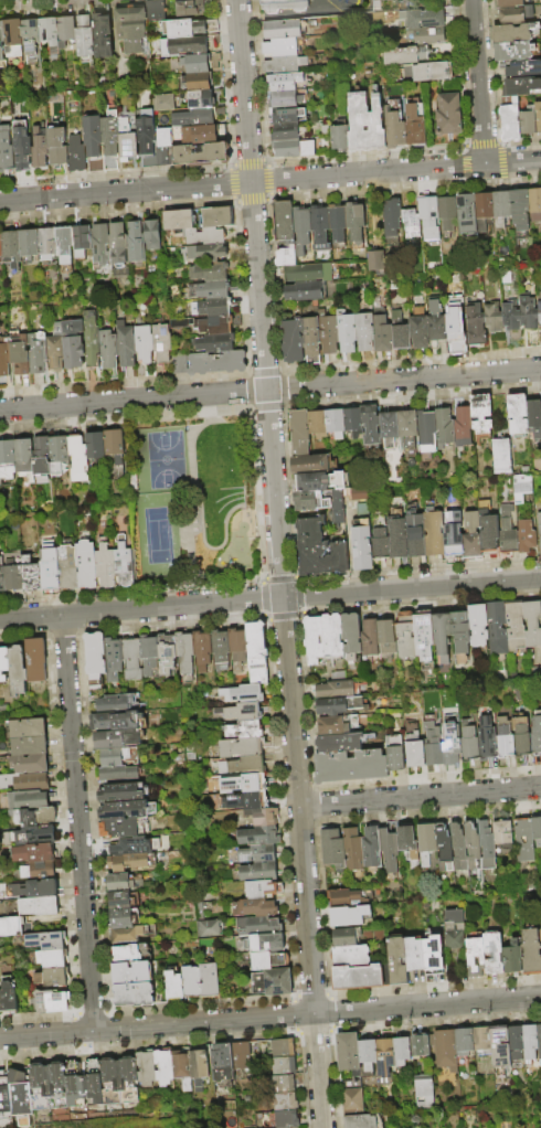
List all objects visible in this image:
building: (510, 3)
building: (283, 6)
building: (191, 8)
building: (156, 10)
building: (515, 14)
building: (422, 18)
building: (131, 26)
building: (191, 26)
building: (282, 29)
building: (66, 30)
building: (50, 32)
building: (515, 32)
building: (103, 34)
building: (426, 34)
building: (85, 35)
building: (31, 38)
building: (13, 40)
building: (1, 43)
building: (194, 44)
building: (279, 46)
building: (515, 51)
building: (405, 54)
building: (201, 62)
building: (284, 64)
building: (521, 67)
building: (431, 71)
building: (199, 81)
building: (283, 81)
road: (479, 83)
building: (521, 87)
building: (284, 98)
building: (162, 100)
building: (285, 115)
building: (448, 115)
building: (198, 116)
building: (538, 116)
building: (510, 121)
building: (528, 121)
building: (364, 124)
building: (414, 124)
building: (393, 125)
building: (286, 131)
building: (203, 134)
building: (339, 137)
building: (110, 139)
building: (153, 139)
building: (94, 140)
building: (128, 140)
building: (22, 145)
building: (57, 146)
building: (40, 148)
building: (291, 148)
building: (6, 151)
building: (76, 153)
building: (202, 153)
road: (512, 162)
road: (243, 183)
building: (534, 205)
building: (500, 207)
building: (482, 210)
building: (519, 210)
building: (466, 212)
building: (447, 213)
building: (392, 214)
building: (428, 216)
building: (219, 217)
building: (180, 220)
building: (197, 220)
building: (283, 221)
building: (337, 222)
building: (356, 222)
building: (411, 224)
building: (319, 227)
building: (301, 230)
building: (155, 235)
building: (206, 236)
building: (83, 240)
building: (138, 242)
building: (102, 243)
building: (30, 244)
building: (49, 244)
building: (65, 244)
building: (119, 244)
building: (1, 245)
building: (12, 248)
building: (209, 253)
building: (286, 257)
building: (374, 260)
building: (211, 272)
building: (308, 273)
building: (213, 289)
building: (304, 291)
road: (259, 298)
building: (214, 308)
building: (528, 312)
building: (539, 315)
building: (492, 317)
building: (436, 323)
building: (512, 323)
building: (208, 324)
building: (475, 324)
building: (455, 327)
building: (364, 332)
building: (418, 332)
building: (329, 334)
building: (347, 334)
building: (382, 336)
building: (401, 338)
building: (311, 339)
building: (92, 342)
building: (291, 342)
building: (216, 343)
building: (74, 344)
building: (127, 347)
building: (162, 347)
building: (145, 348)
building: (57, 349)
building: (39, 352)
building: (110, 352)
building: (21, 354)
building: (6, 359)
building: (218, 363)
building: (180, 364)
road: (269, 390)
building: (480, 413)
building: (518, 414)
building: (534, 417)
building: (352, 421)
building: (317, 423)
building: (335, 423)
building: (370, 425)
building: (406, 425)
building: (463, 425)
building: (444, 426)
building: (299, 428)
building: (389, 428)
building: (427, 429)
building: (115, 446)
building: (95, 450)
building: (57, 451)
building: (41, 455)
building: (22, 456)
building: (78, 457)
building: (501, 457)
building: (7, 458)
park: (169, 459)
building: (311, 464)
building: (319, 481)
building: (517, 488)
park: (194, 500)
building: (310, 500)
building: (507, 531)
building: (539, 531)
building: (434, 533)
building: (489, 533)
building: (453, 534)
park: (159, 536)
building: (416, 536)
building: (471, 538)
building: (527, 539)
building: (397, 540)
building: (310, 546)
building: (380, 546)
building: (361, 549)
building: (335, 557)
building: (123, 562)
building: (85, 564)
building: (104, 564)
building: (67, 566)
building: (12, 571)
building: (49, 571)
building: (30, 574)
building: (1, 575)
road: (411, 587)
road: (140, 608)
building: (496, 620)
building: (532, 625)
building: (478, 626)
building: (515, 627)
building: (424, 630)
building: (385, 631)
building: (351, 634)
building: (459, 635)
building: (405, 637)
building: (442, 637)
building: (322, 638)
building: (369, 638)
building: (237, 648)
building: (220, 649)
building: (203, 650)
building: (257, 652)
building: (166, 653)
building: (149, 656)
building: (184, 656)
building: (95, 658)
building: (131, 658)
building: (113, 659)
building: (38, 660)
building: (4, 664)
building: (20, 672)
building: (338, 677)
building: (516, 680)
building: (335, 691)
building: (243, 693)
building: (116, 703)
building: (331, 706)
building: (240, 712)
building: (118, 721)
building: (330, 726)
building: (30, 728)
building: (244, 730)
building: (537, 734)
building: (118, 738)
building: (503, 739)
building: (521, 739)
building: (486, 742)
building: (339, 743)
building: (469, 743)
building: (433, 745)
building: (31, 746)
building: (414, 746)
building: (240, 747)
building: (452, 747)
building: (395, 754)
building: (118, 756)
building: (31, 764)
building: (245, 765)
building: (350, 766)
building: (119, 773)
building: (26, 783)
building: (248, 784)
building: (123, 792)
road: (420, 799)
building: (30, 801)
building: (250, 801)
building: (127, 810)
building: (263, 816)
building: (35, 818)
road: (82, 822)
building: (121, 828)
building: (538, 829)
building: (505, 833)
building: (258, 836)
building: (38, 838)
building: (410, 841)
building: (527, 841)
building: (429, 843)
building: (460, 845)
building: (475, 845)
building: (128, 847)
building: (446, 847)
building: (489, 847)
building: (373, 848)
building: (336, 849)
building: (391, 849)
building: (356, 850)
building: (261, 853)
building: (35, 854)
building: (130, 862)
road: (303, 862)
building: (261, 871)
building: (40, 872)
building: (125, 882)
building: (38, 890)
building: (264, 890)
building: (351, 898)
building: (123, 900)
building: (40, 906)
building: (255, 907)
building: (350, 916)
building: (125, 917)
building: (258, 925)
building: (205, 927)
building: (17, 928)
building: (131, 933)
building: (348, 938)
building: (456, 940)
building: (47, 941)
building: (272, 941)
building: (533, 951)
building: (131, 954)
building: (496, 954)
building: (417, 955)
building: (352, 956)
building: (478, 958)
building: (54, 959)
building: (267, 960)
building: (515, 960)
building: (400, 962)
building: (436, 962)
building: (132, 973)
building: (54, 977)
building: (360, 978)
building: (210, 980)
building: (192, 981)
building: (273, 982)
building: (174, 986)
building: (10, 992)
building: (135, 994)
road: (312, 996)
building: (52, 999)
road: (204, 1002)
building: (0, 1005)
road: (93, 1011)
road: (331, 1011)
road: (296, 1012)
road: (38, 1015)
road: (270, 1018)
road: (316, 1029)
building: (540, 1033)
building: (485, 1041)
road: (149, 1042)
building: (466, 1042)
building: (519, 1043)
building: (532, 1043)
building: (423, 1046)
building: (284, 1047)
building: (502, 1047)
building: (447, 1050)
building: (404, 1052)
building: (351, 1054)
building: (370, 1054)
building: (386, 1054)
building: (243, 1056)
building: (222, 1063)
building: (284, 1066)
building: (199, 1067)
building: (146, 1068)
building: (162, 1068)
building: (181, 1068)
building: (128, 1079)
building: (110, 1081)
building: (93, 1083)
building: (74, 1084)
building: (59, 1085)
building: (353, 1085)
building: (41, 1087)
building: (284, 1088)
building: (422, 1090)
building: (20, 1095)
building: (3, 1097)
building: (354, 1103)
building: (287, 1114)
building: (363, 1121)

